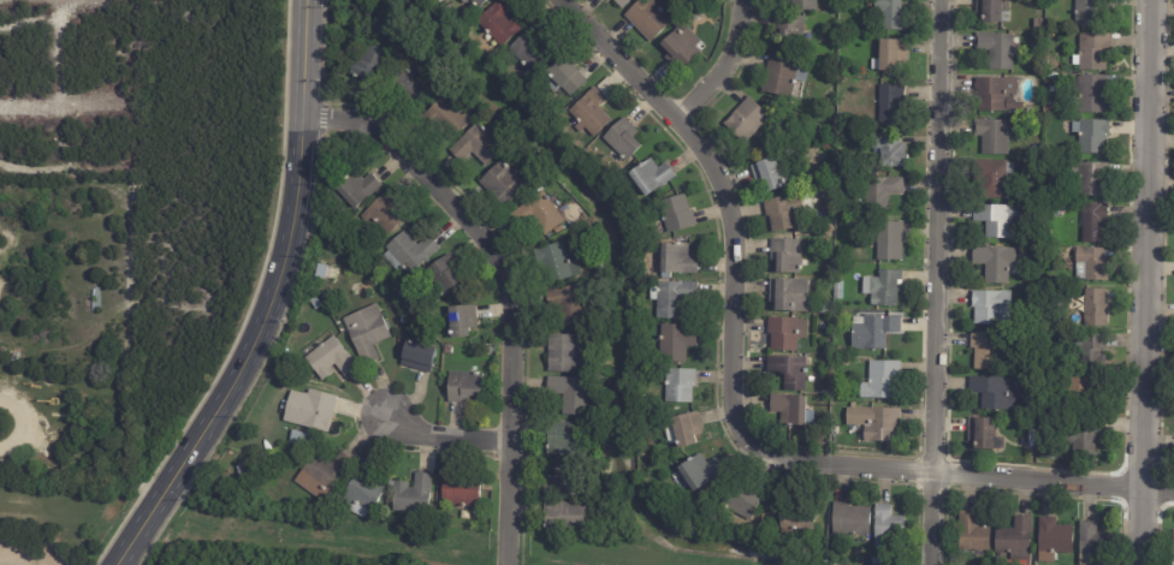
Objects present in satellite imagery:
building: (464, 0)
building: (438, 1)
building: (478, 2)
building: (619, 2)
building: (802, 5)
building: (991, 11)
building: (1089, 12)
building: (889, 13)
building: (647, 18)
building: (499, 22)
building: (1049, 22)
building: (1038, 24)
building: (788, 32)
building: (680, 48)
building: (996, 49)
building: (532, 52)
building: (1092, 52)
building: (889, 58)
building: (367, 61)
road: (718, 63)
building: (782, 76)
building: (562, 78)
building: (1051, 82)
building: (409, 90)
building: (1038, 95)
building: (1089, 95)
building: (996, 97)
building: (890, 105)
building: (556, 107)
building: (769, 107)
building: (1051, 107)
building: (592, 109)
building: (1036, 111)
building: (850, 115)
building: (444, 119)
building: (745, 120)
building: (1091, 136)
building: (991, 137)
building: (622, 139)
building: (828, 141)
building: (476, 145)
building: (888, 149)
building: (770, 174)
building: (650, 177)
building: (991, 179)
building: (1090, 179)
building: (502, 184)
building: (355, 189)
building: (536, 189)
building: (880, 192)
building: (806, 194)
building: (782, 213)
building: (384, 214)
building: (536, 214)
building: (676, 214)
building: (331, 220)
building: (830, 220)
building: (996, 221)
building: (1092, 224)
building: (888, 240)
building: (823, 243)
building: (1036, 250)
building: (1048, 251)
building: (363, 254)
building: (408, 254)
building: (787, 256)
building: (676, 261)
building: (995, 263)
building: (1092, 263)
building: (555, 264)
building: (598, 266)
building: (441, 278)
road: (1143, 281)
road: (936, 282)
road: (508, 285)
building: (884, 290)
building: (837, 291)
building: (789, 297)
building: (670, 299)
road: (271, 302)
building: (314, 304)
building: (569, 305)
building: (823, 309)
building: (991, 309)
building: (1095, 309)
building: (403, 319)
building: (459, 321)
building: (822, 326)
building: (366, 333)
building: (784, 334)
building: (872, 334)
building: (675, 344)
building: (828, 347)
building: (446, 350)
building: (487, 351)
building: (985, 351)
building: (1090, 353)
building: (562, 355)
building: (326, 356)
building: (416, 357)
building: (788, 374)
building: (879, 381)
building: (463, 387)
building: (678, 387)
building: (1080, 388)
building: (569, 394)
building: (991, 394)
road: (730, 408)
building: (309, 410)
building: (787, 411)
road: (24, 418)
building: (874, 424)
building: (595, 430)
building: (680, 432)
building: (832, 432)
road: (445, 434)
building: (980, 435)
building: (1083, 438)
building: (300, 439)
building: (564, 440)
building: (594, 441)
building: (641, 451)
building: (1072, 463)
building: (241, 472)
building: (699, 474)
building: (322, 475)
building: (563, 483)
building: (461, 490)
building: (362, 493)
building: (411, 495)
building: (740, 504)
building: (563, 518)
road: (66, 519)
building: (796, 521)
building: (849, 521)
building: (888, 529)
building: (972, 531)
building: (1055, 536)
building: (1015, 539)
building: (1093, 545)
building: (1173, 546)
road: (8, 561)
building: (877, 561)

